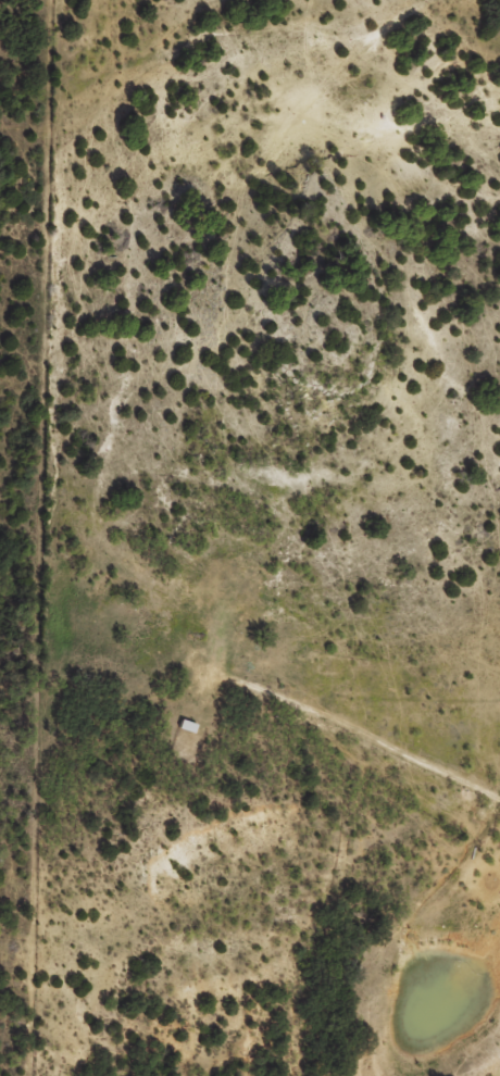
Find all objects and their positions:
road: (359, 740)

